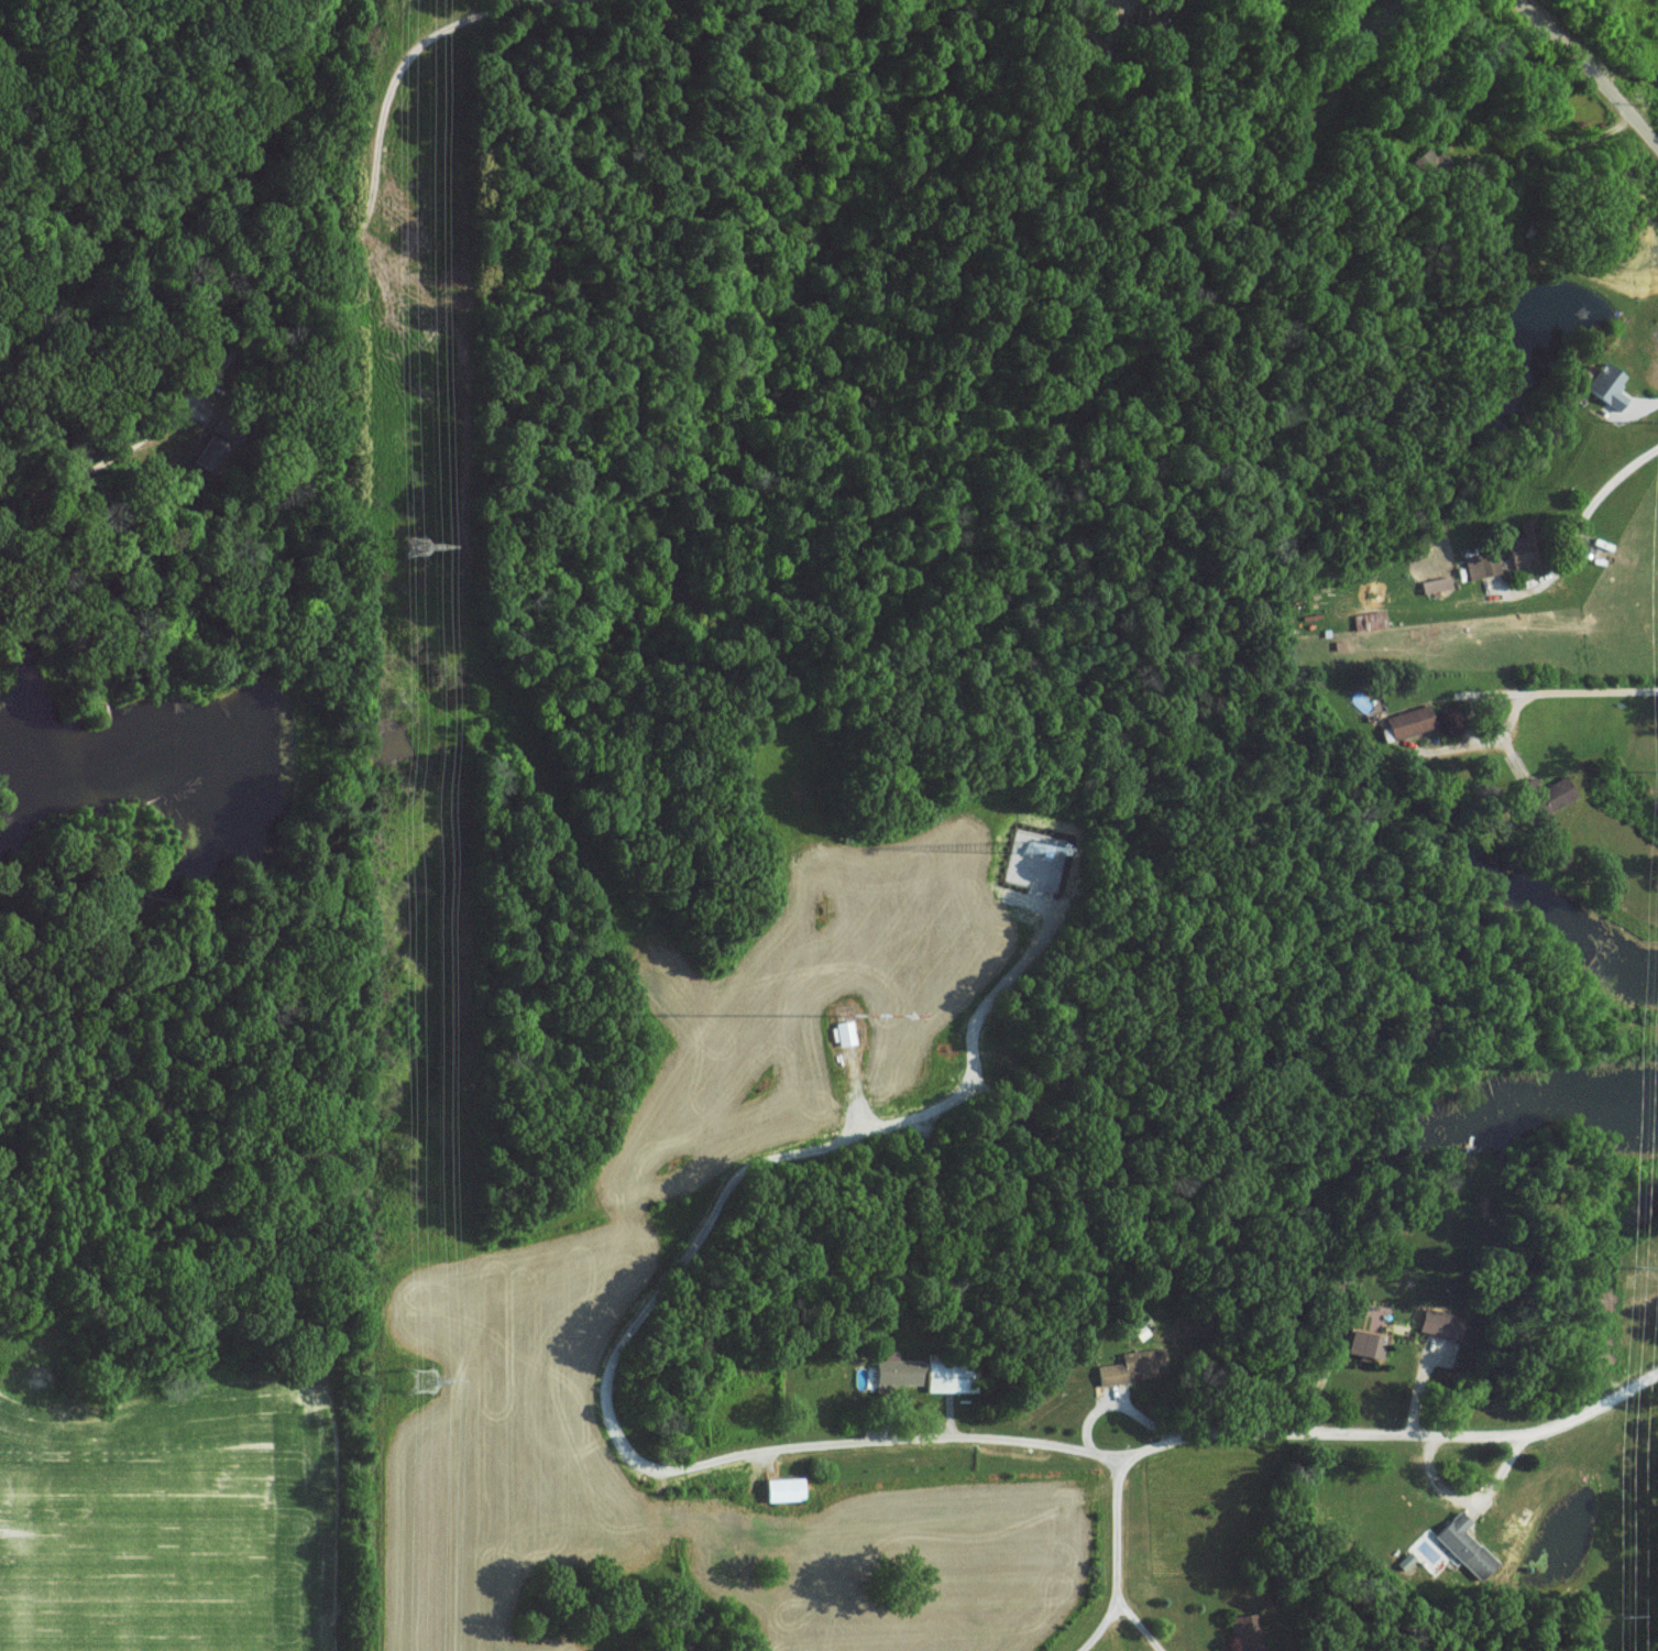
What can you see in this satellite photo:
road: (1194, 54)
road: (1588, 72)
building: (1431, 163)
road: (314, 277)
building: (1607, 385)
road: (1645, 403)
road: (1580, 528)
building: (1525, 547)
power tower: (414, 549)
building: (1481, 564)
building: (1435, 583)
building: (1369, 621)
road: (1531, 689)
building: (1408, 722)
building: (1547, 794)
building: (837, 1039)
road: (847, 1098)
building: (1033, 1130)
building: (1440, 1322)
building: (1140, 1331)
building: (1363, 1343)
building: (1137, 1365)
building: (888, 1379)
building: (1105, 1379)
power tower: (421, 1382)
road: (602, 1385)
building: (938, 1385)
road: (1111, 1398)
road: (1081, 1432)
road: (1428, 1440)
building: (777, 1495)
road: (1464, 1501)
building: (1459, 1550)
road: (1112, 1559)
building: (1405, 1560)
road: (1098, 1626)
building: (1245, 1632)

